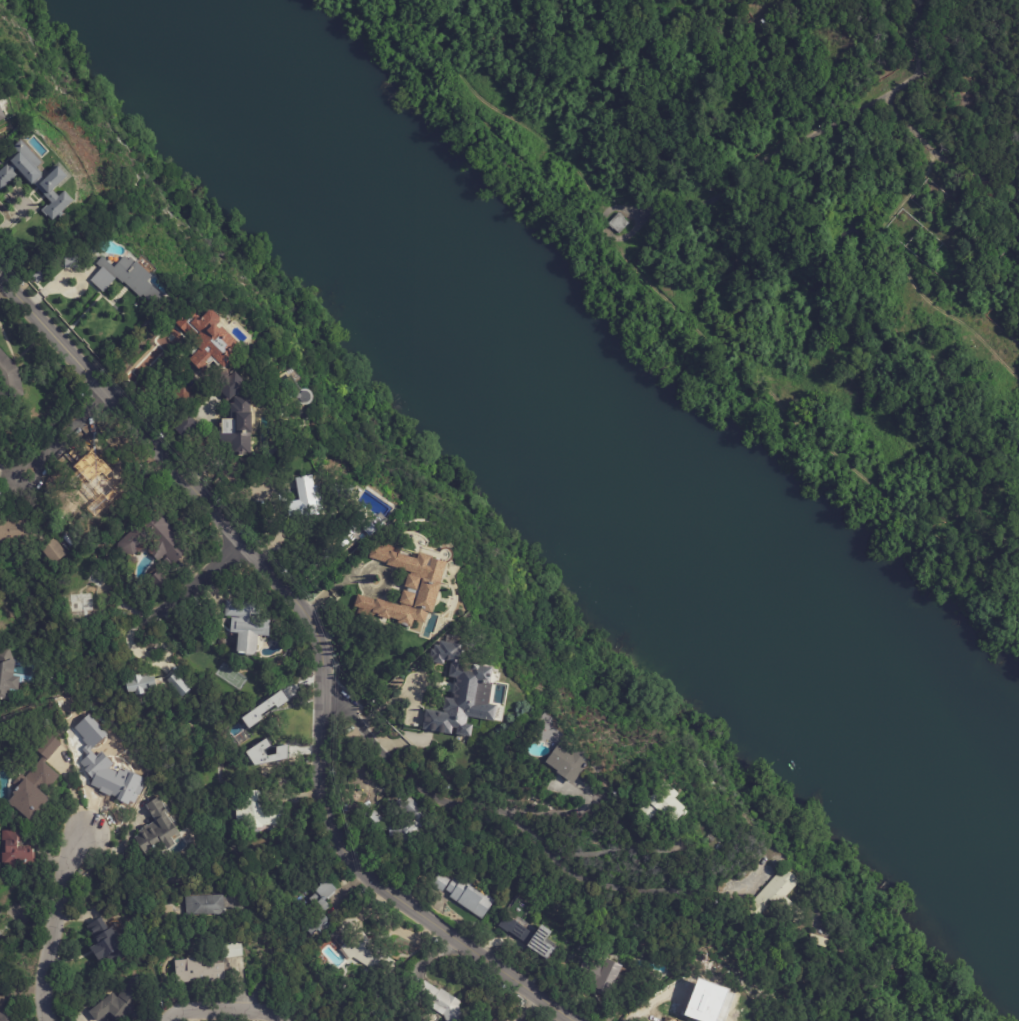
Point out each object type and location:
building: (2, 116)
building: (40, 180)
road: (7, 215)
building: (618, 223)
building: (128, 276)
road: (3, 290)
building: (209, 337)
building: (9, 378)
building: (231, 386)
building: (294, 391)
building: (183, 397)
building: (186, 425)
building: (238, 426)
road: (58, 436)
river: (553, 469)
building: (235, 472)
building: (97, 483)
building: (306, 498)
building: (16, 530)
building: (156, 540)
building: (101, 545)
building: (54, 551)
building: (361, 556)
building: (352, 565)
building: (299, 570)
building: (340, 575)
building: (98, 578)
building: (159, 581)
road: (196, 585)
building: (409, 586)
building: (81, 605)
building: (247, 626)
road: (319, 649)
building: (7, 675)
building: (140, 685)
building: (179, 686)
building: (461, 692)
building: (265, 708)
building: (250, 737)
building: (258, 750)
building: (567, 763)
building: (36, 782)
building: (663, 805)
road: (471, 806)
building: (258, 812)
building: (208, 821)
building: (400, 822)
building: (158, 830)
building: (709, 838)
road: (615, 850)
building: (15, 852)
building: (466, 897)
building: (780, 899)
building: (205, 907)
building: (319, 909)
road: (52, 922)
building: (527, 936)
building: (819, 941)
building: (105, 943)
building: (363, 948)
building: (232, 951)
building: (883, 956)
building: (199, 971)
building: (602, 977)
building: (440, 1002)
building: (120, 1003)
road: (230, 1008)
road: (172, 1016)
building: (3, 1017)
building: (107, 1017)

